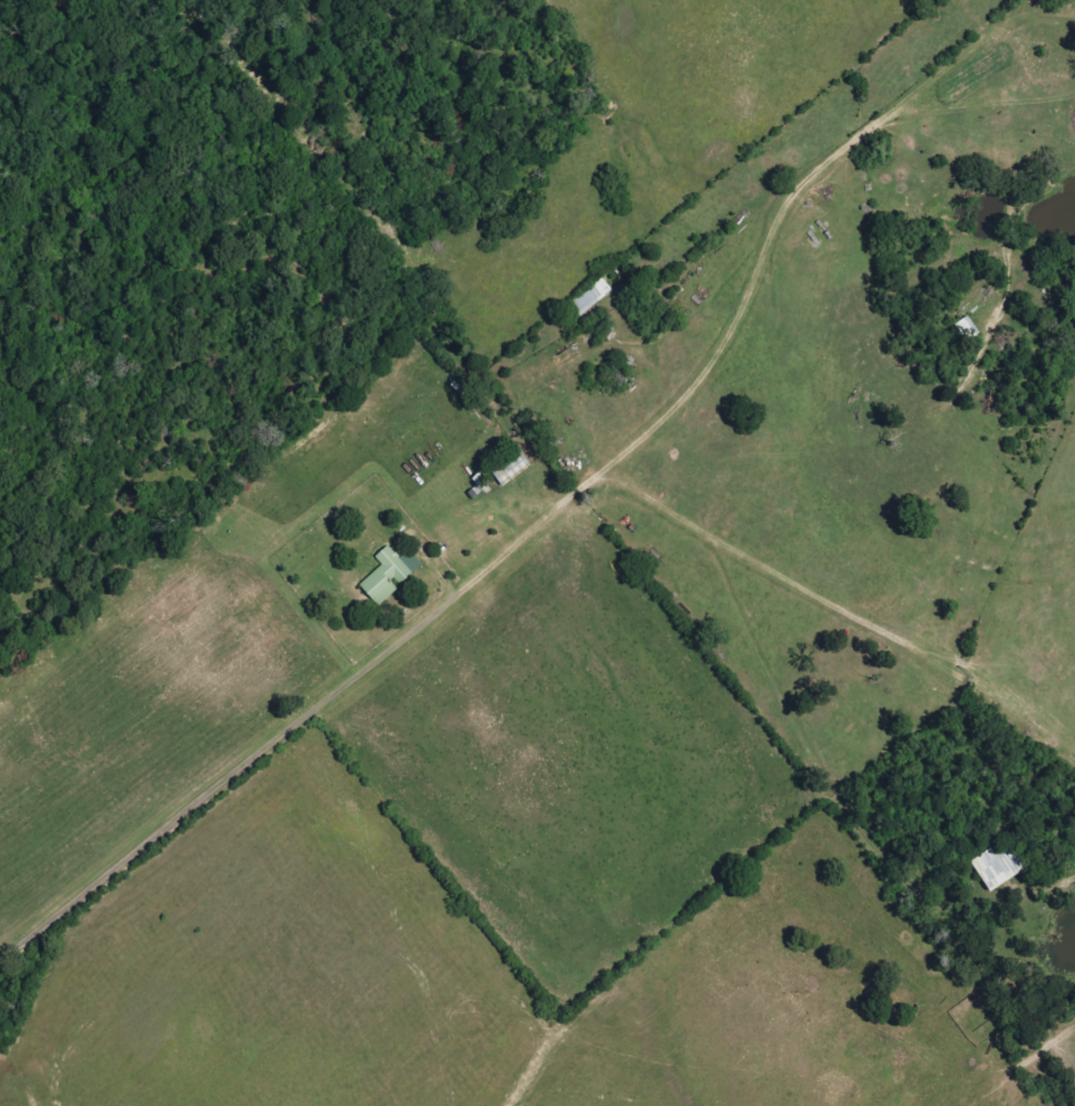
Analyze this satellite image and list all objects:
building: (589, 298)
building: (509, 468)
building: (385, 577)
road: (300, 723)

